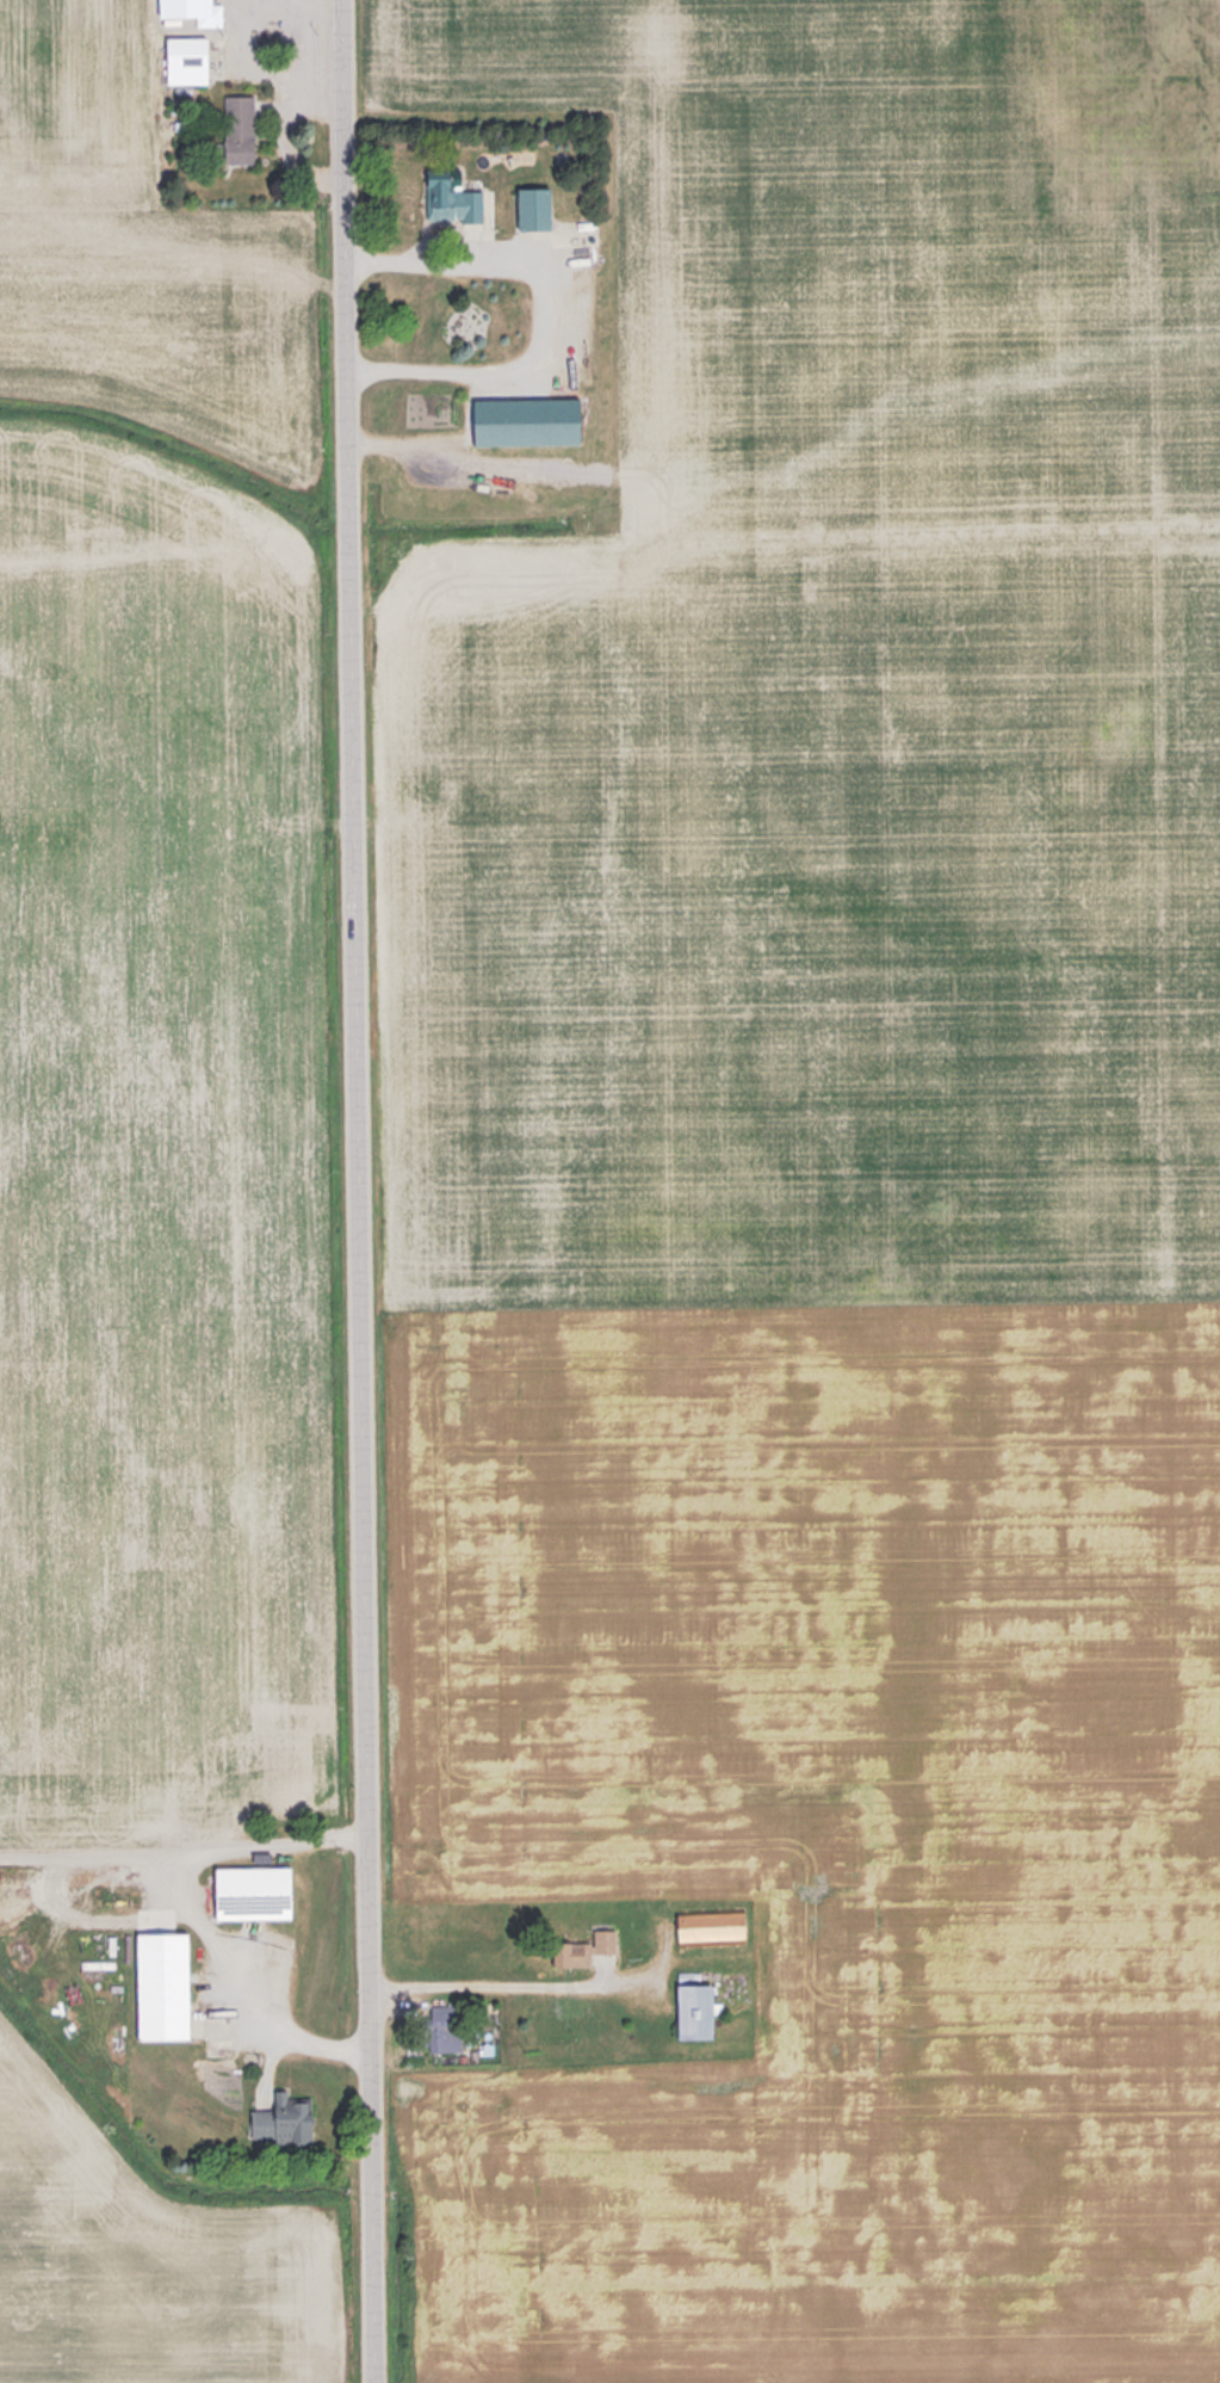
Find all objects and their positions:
building: (188, 60)
building: (241, 128)
building: (452, 197)
building: (535, 206)
road: (547, 313)
building: (527, 420)
road: (359, 1191)
road: (185, 1842)
building: (254, 1891)
building: (712, 1926)
building: (587, 1949)
building: (165, 1984)
building: (696, 2008)
building: (446, 2026)
building: (283, 2119)

